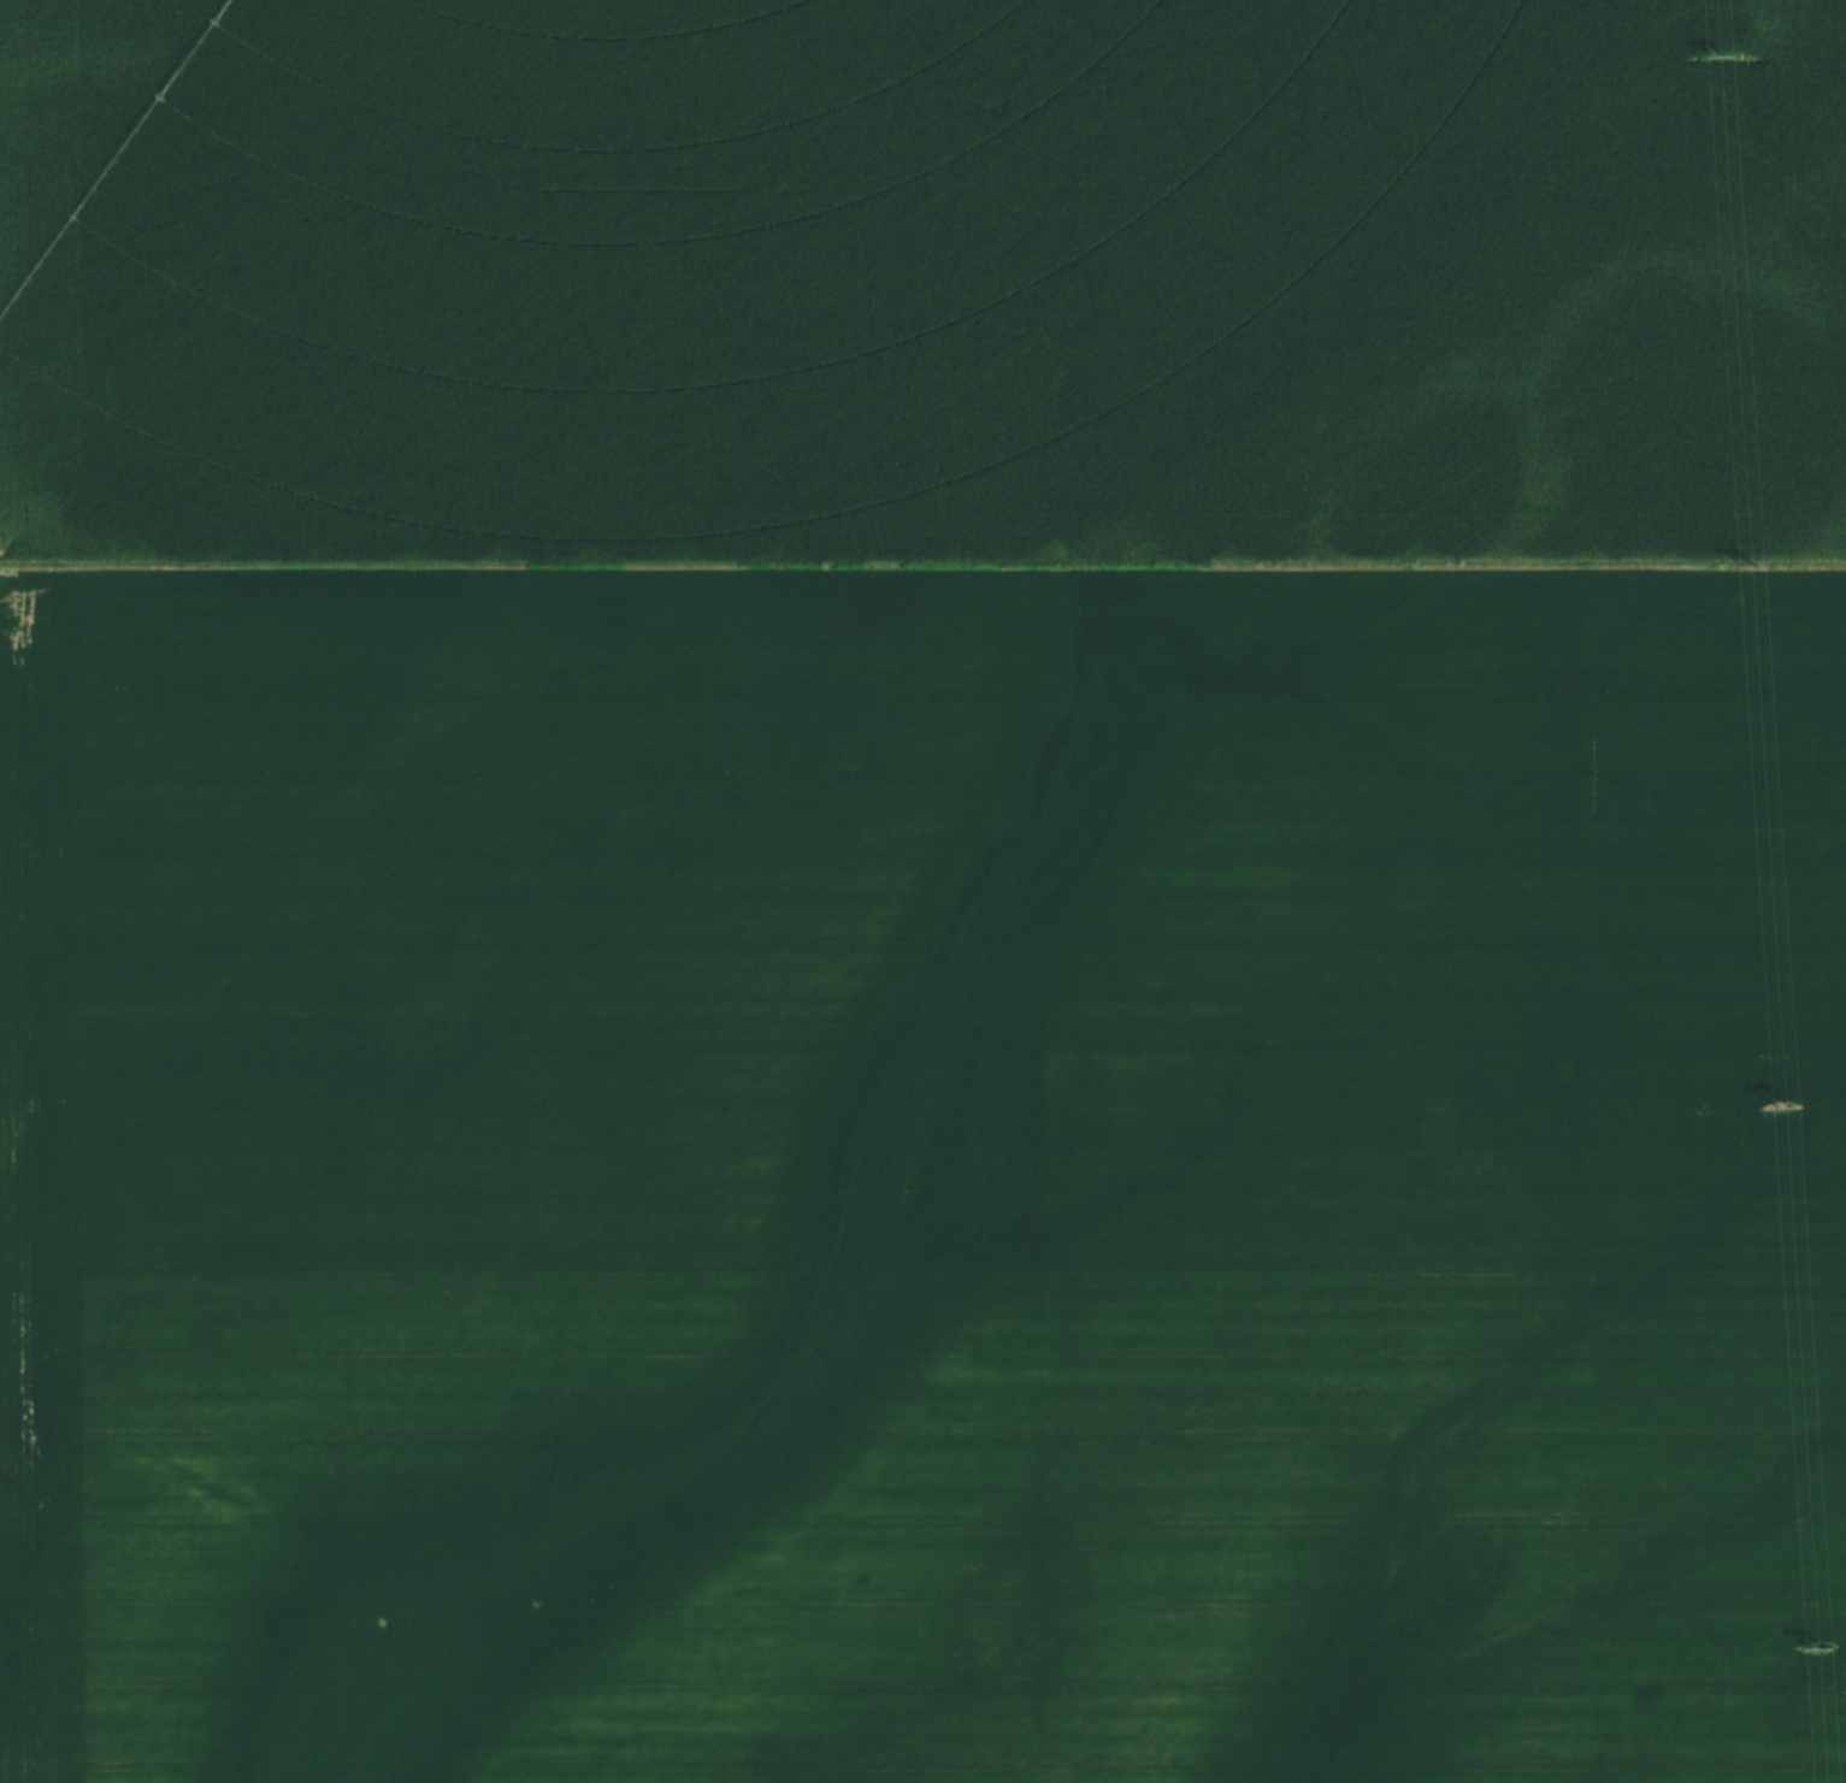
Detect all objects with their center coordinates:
power tower: (1718, 59)
power tower: (1748, 565)
power tower: (1783, 1106)
power tower: (1817, 1648)

